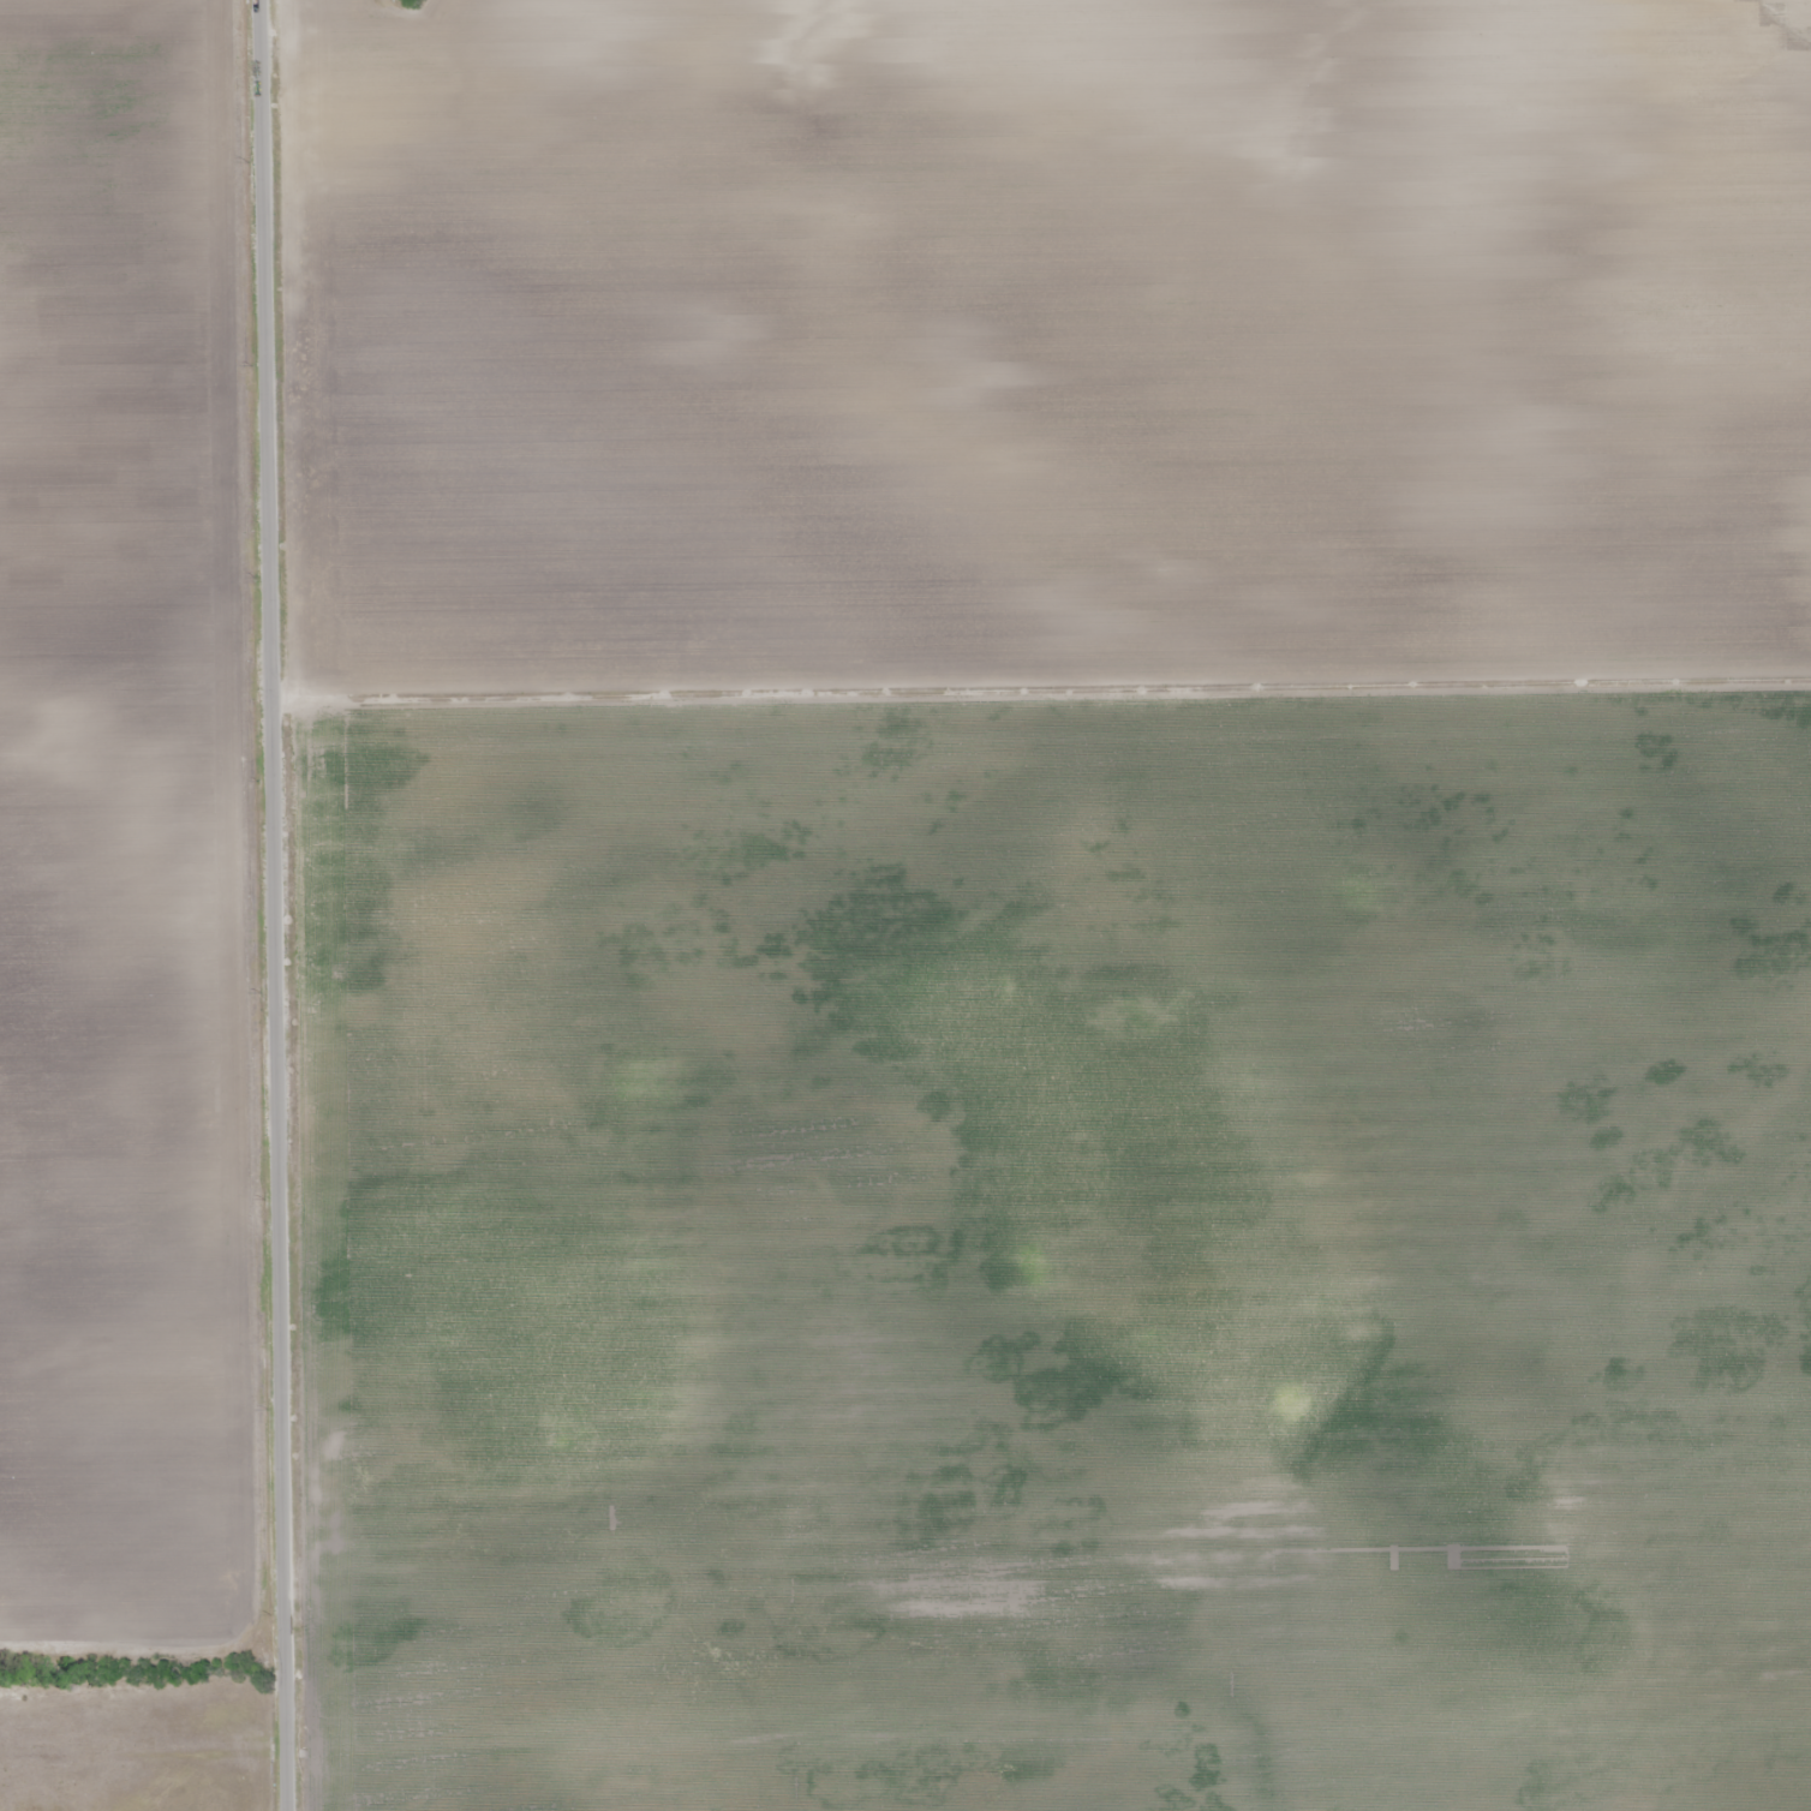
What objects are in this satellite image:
road: (264, 351)
road: (279, 1256)

